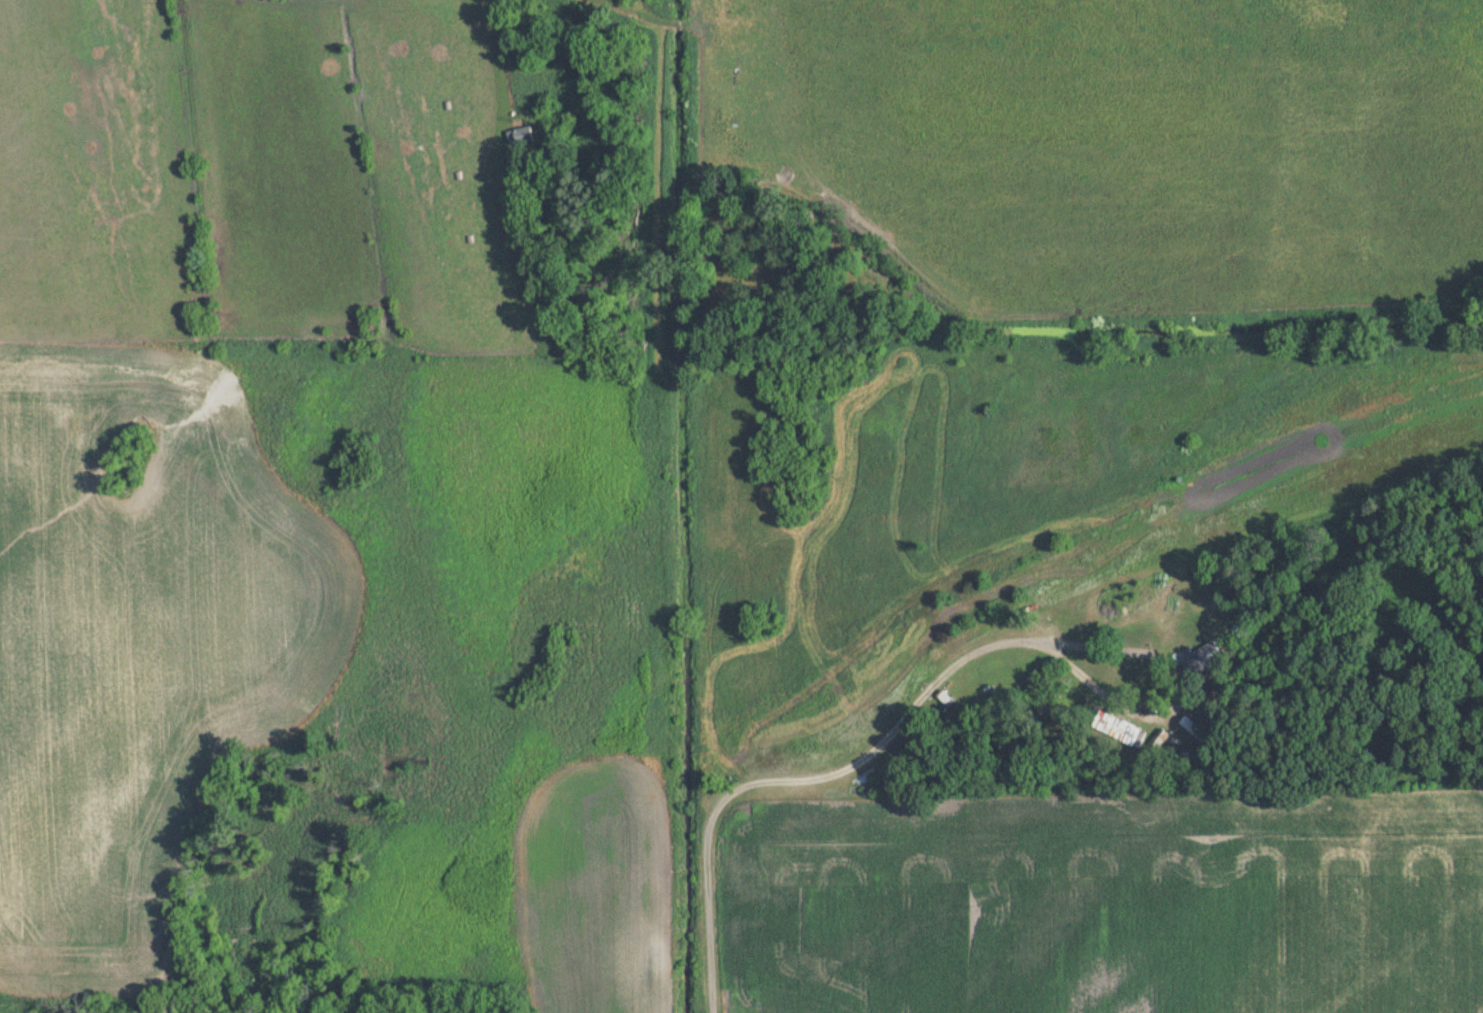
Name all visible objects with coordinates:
building: (520, 137)
building: (1201, 660)
building: (945, 700)
building: (1126, 734)
building: (1195, 738)
road: (844, 763)

